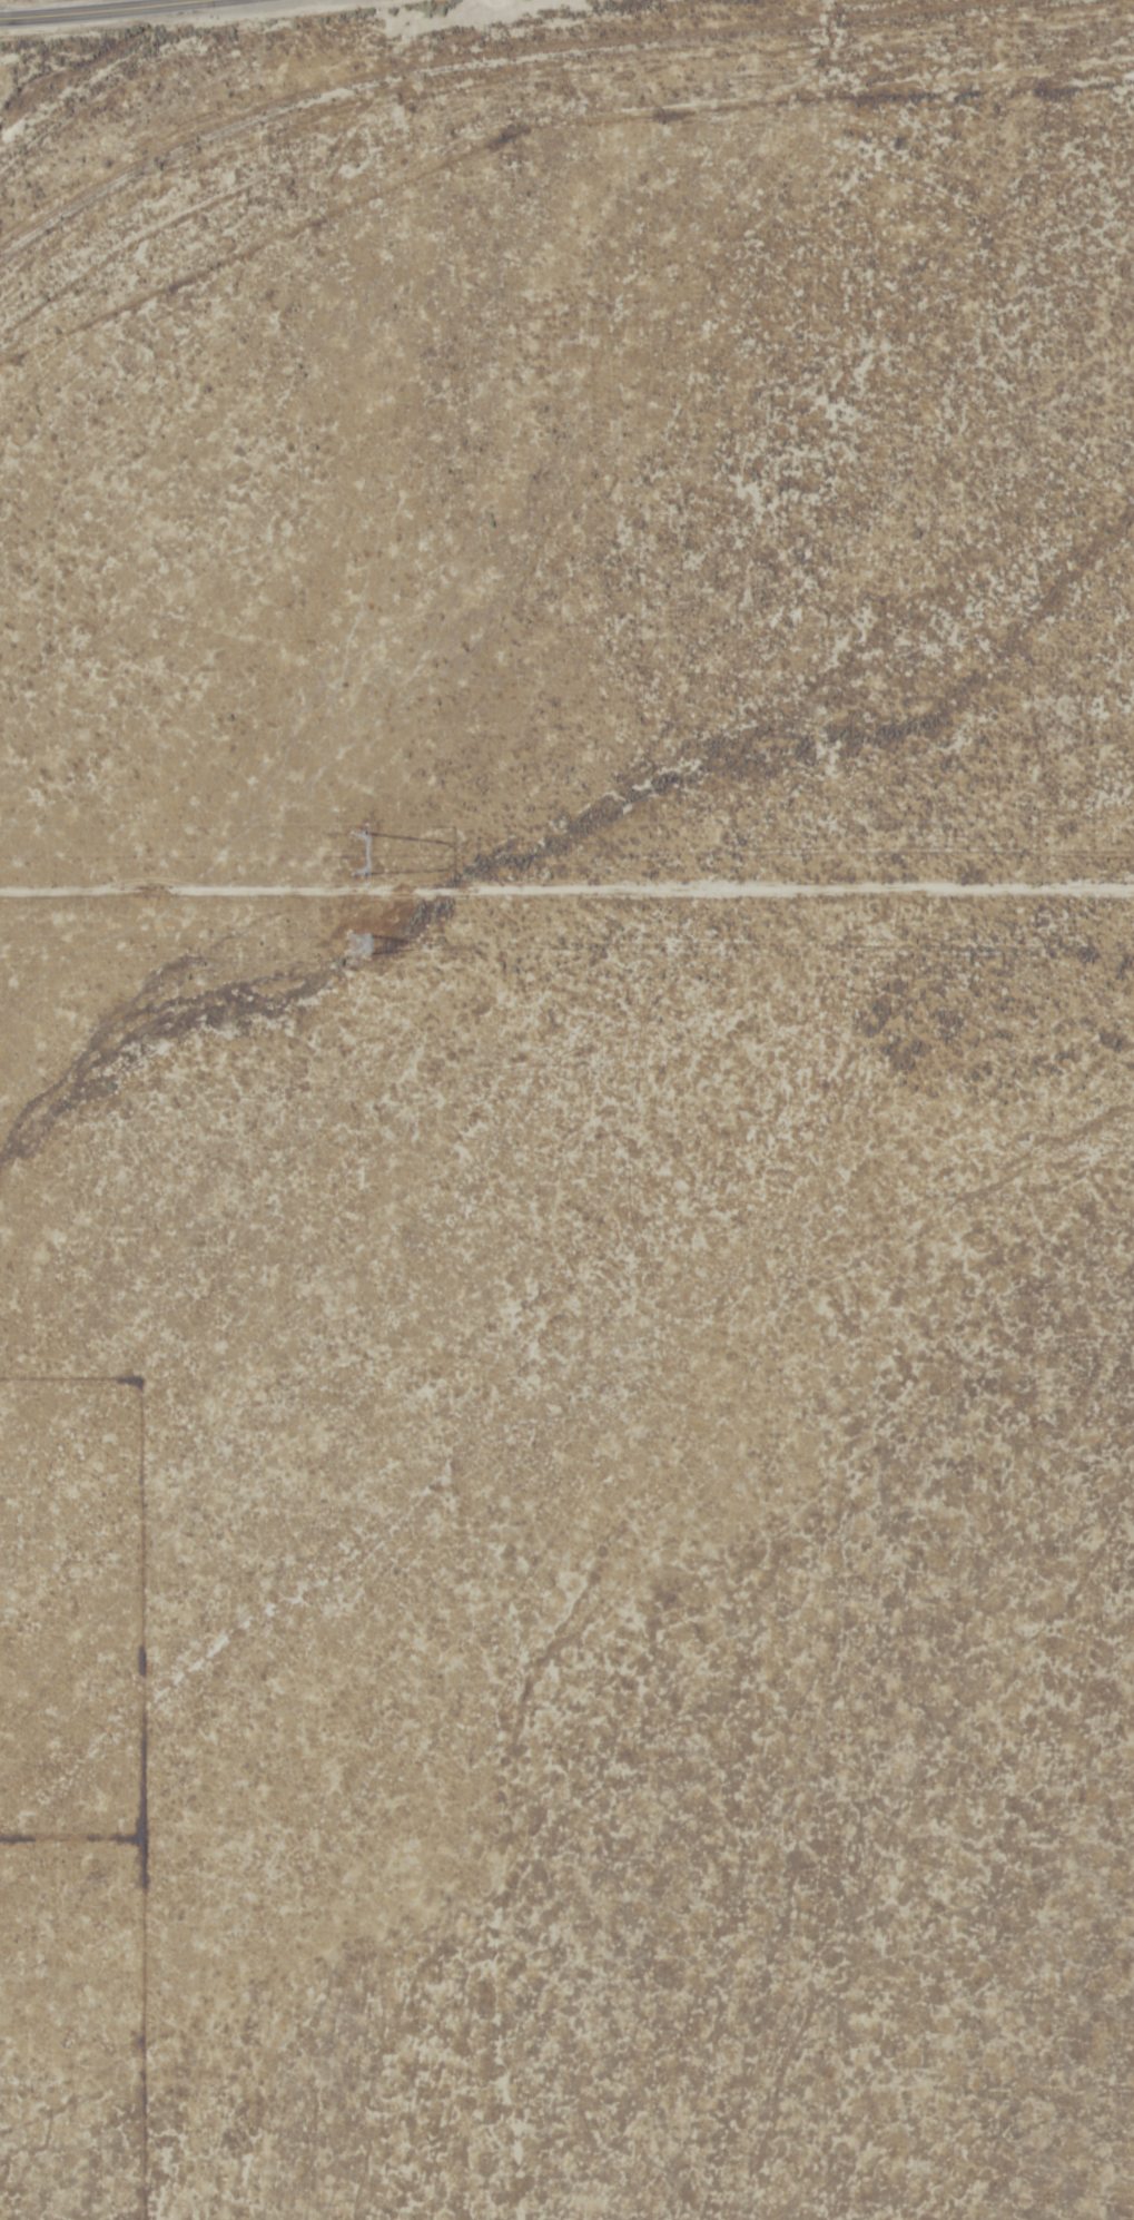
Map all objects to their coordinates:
road: (70, 3)
power tower: (356, 859)
power tower: (359, 951)

